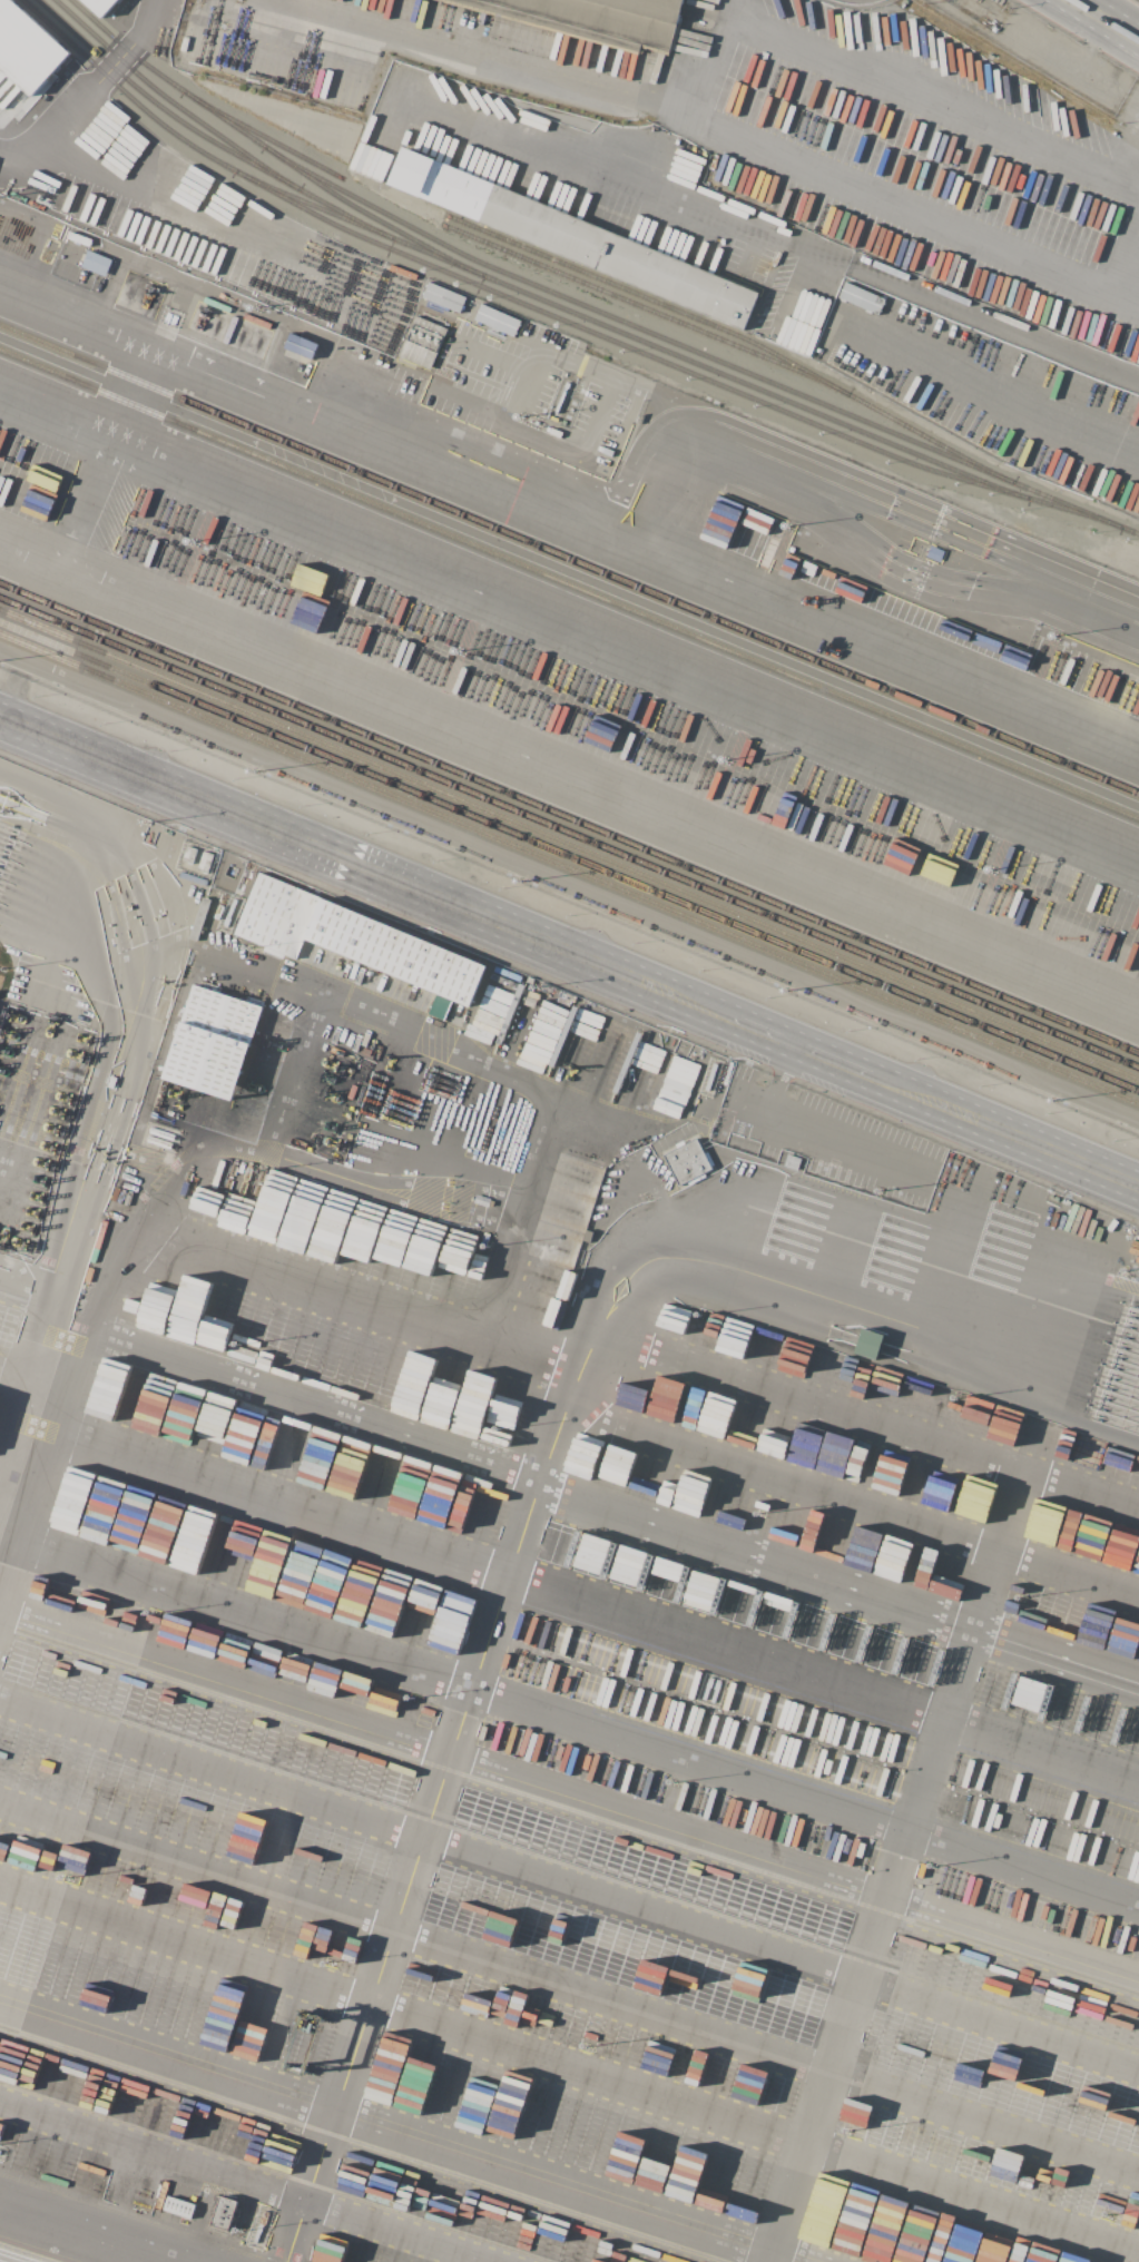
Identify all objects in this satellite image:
building: (100, 6)
road: (725, 9)
building: (596, 18)
road: (1106, 19)
building: (27, 47)
road: (886, 83)
road: (89, 89)
railway: (156, 104)
road: (752, 137)
railway: (267, 138)
railway: (313, 205)
railway: (373, 217)
building: (573, 238)
road: (778, 238)
building: (96, 263)
railway: (497, 293)
building: (444, 297)
building: (861, 298)
road: (1120, 298)
railway: (583, 304)
railway: (554, 305)
railway: (639, 306)
building: (498, 319)
railway: (740, 335)
building: (423, 343)
building: (301, 346)
road: (999, 393)
road: (698, 459)
road: (109, 463)
road: (570, 519)
road: (970, 541)
building: (935, 553)
railway: (569, 560)
railway: (568, 586)
road: (954, 586)
road: (569, 629)
street lamp: (36, 696)
street lamp: (102, 722)
street lamp: (169, 750)
street lamp: (236, 778)
road: (567, 785)
street lamp: (302, 805)
railway: (569, 818)
street lamp: (369, 833)
railway: (569, 833)
railway: (569, 844)
building: (189, 855)
railway: (569, 856)
street lamp: (435, 860)
building: (205, 862)
railway: (569, 867)
street lamp: (501, 887)
street lamp: (568, 915)
building: (352, 938)
street lamp: (635, 943)
road: (190, 945)
road: (569, 951)
street lamp: (700, 970)
street lamp: (767, 997)
building: (528, 1001)
road: (345, 1005)
street lamp: (847, 1030)
road: (149, 1040)
building: (213, 1042)
street lamp: (916, 1059)
building: (691, 1069)
street lamp: (981, 1085)
building: (45, 1088)
street lamp: (1047, 1112)
road: (57, 1123)
road: (808, 1132)
street lamp: (1113, 1140)
building: (687, 1161)
building: (792, 1162)
road: (42, 1219)
road: (126, 1221)
road: (1021, 1278)
road: (344, 1308)
building: (868, 1344)
road: (18, 1385)
road: (304, 1400)
road: (812, 1405)
road: (1093, 1422)
road: (21, 1452)
road: (780, 1479)
road: (6, 1491)
road: (1081, 1491)
road: (273, 1495)
road: (510, 1548)
road: (836, 1579)
road: (1068, 1579)
road: (237, 1604)
road: (223, 1679)
road: (821, 1682)
road: (803, 1790)
road: (905, 1833)
road: (792, 1866)
road: (569, 1887)
road: (569, 1989)
road: (569, 2069)
road: (395, 2132)
road: (239, 2184)
building: (179, 2207)
building: (225, 2213)
building: (261, 2225)
road: (92, 2231)
building: (980, 2260)
building: (929, 2261)

